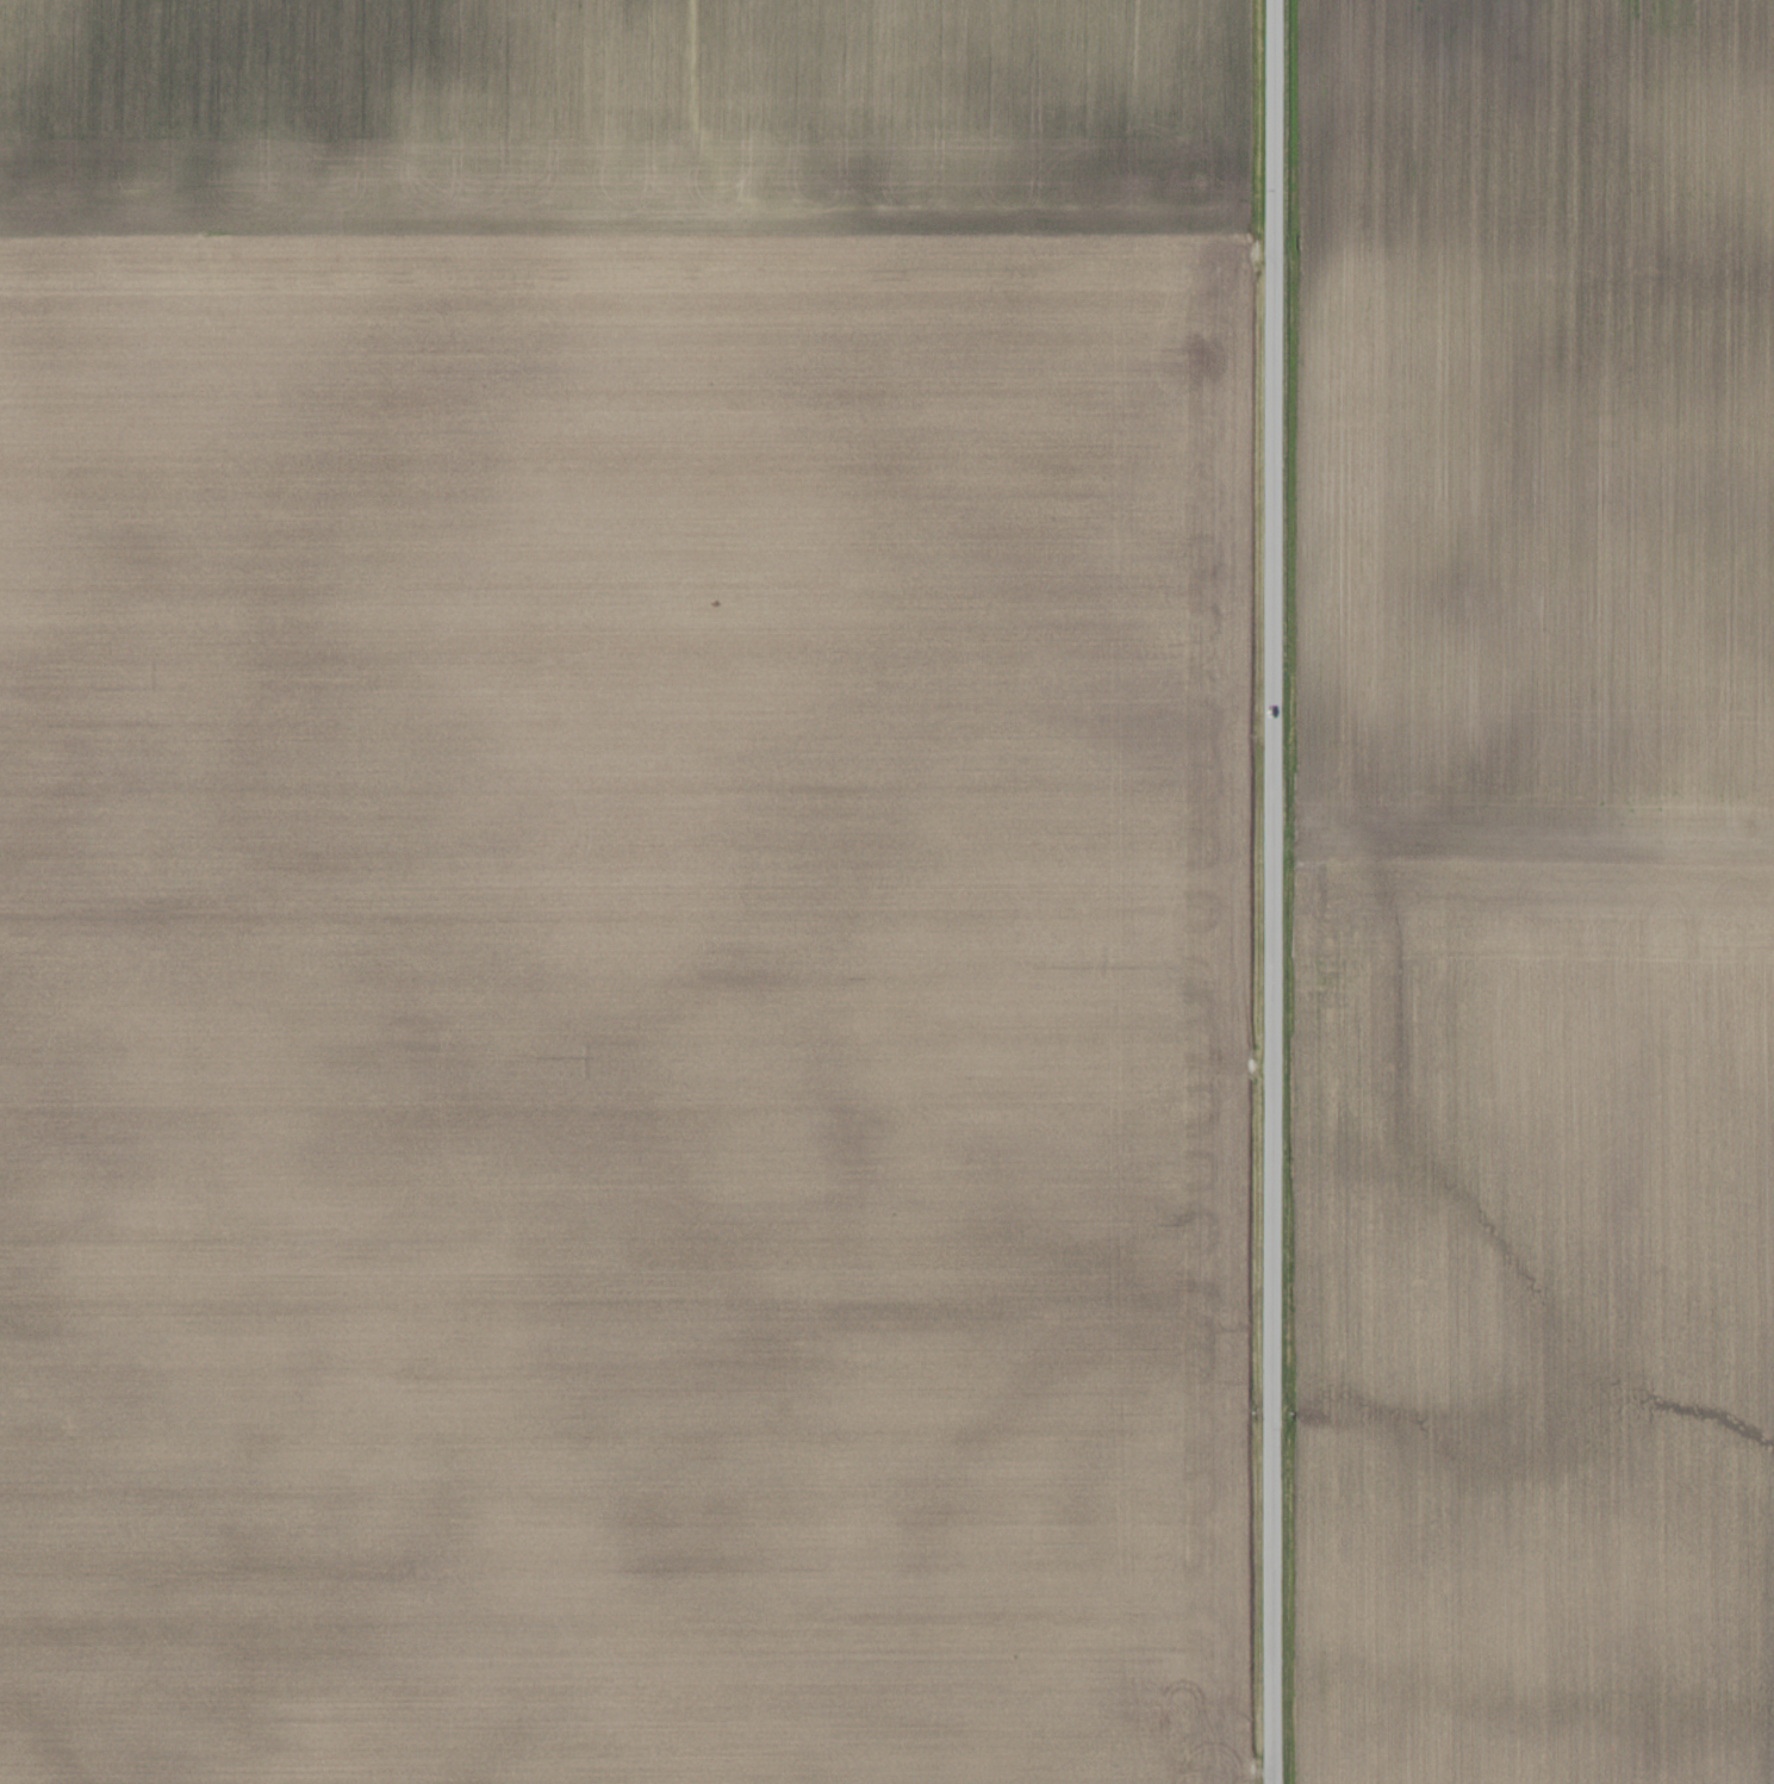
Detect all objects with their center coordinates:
road: (1268, 891)

